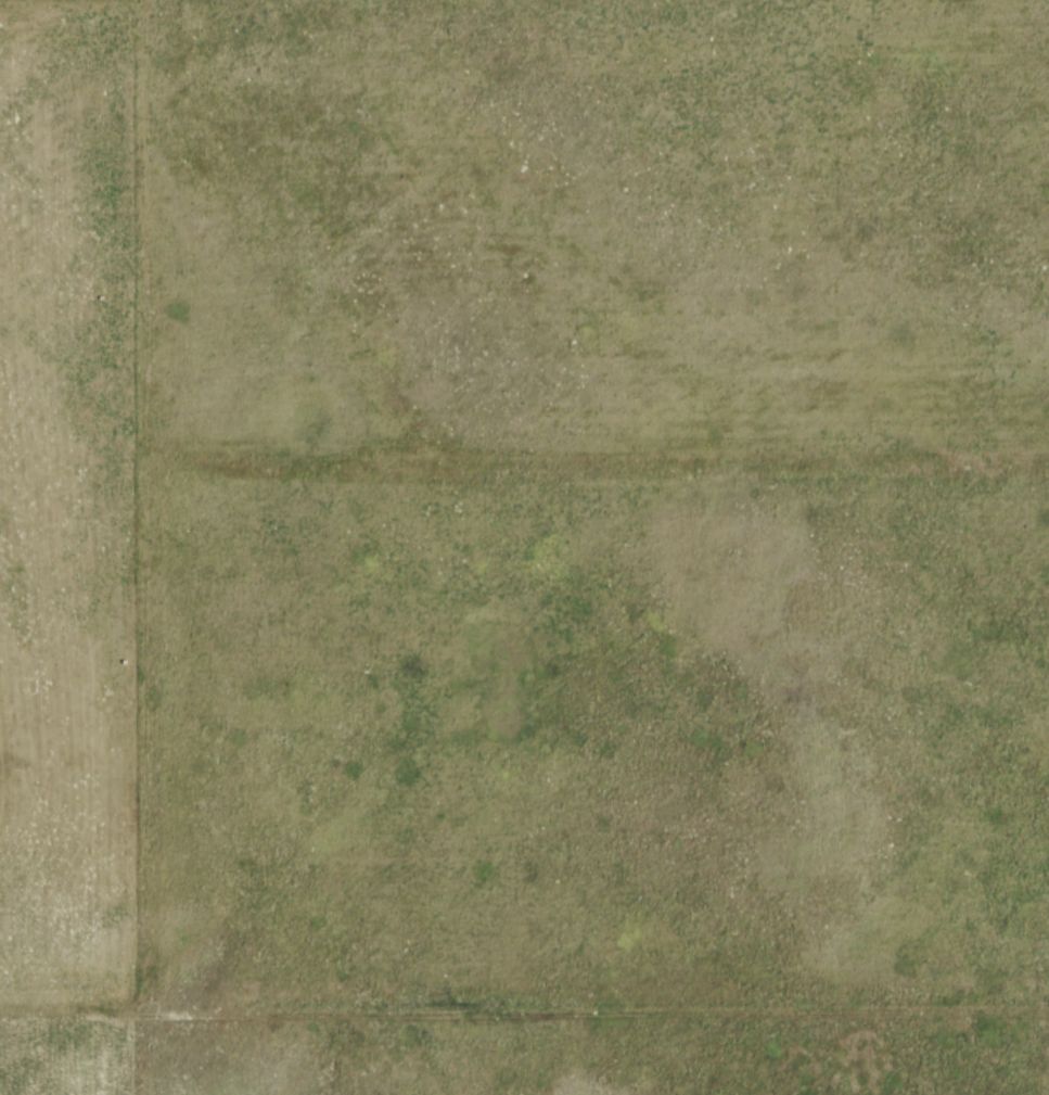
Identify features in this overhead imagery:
road: (524, 1011)

